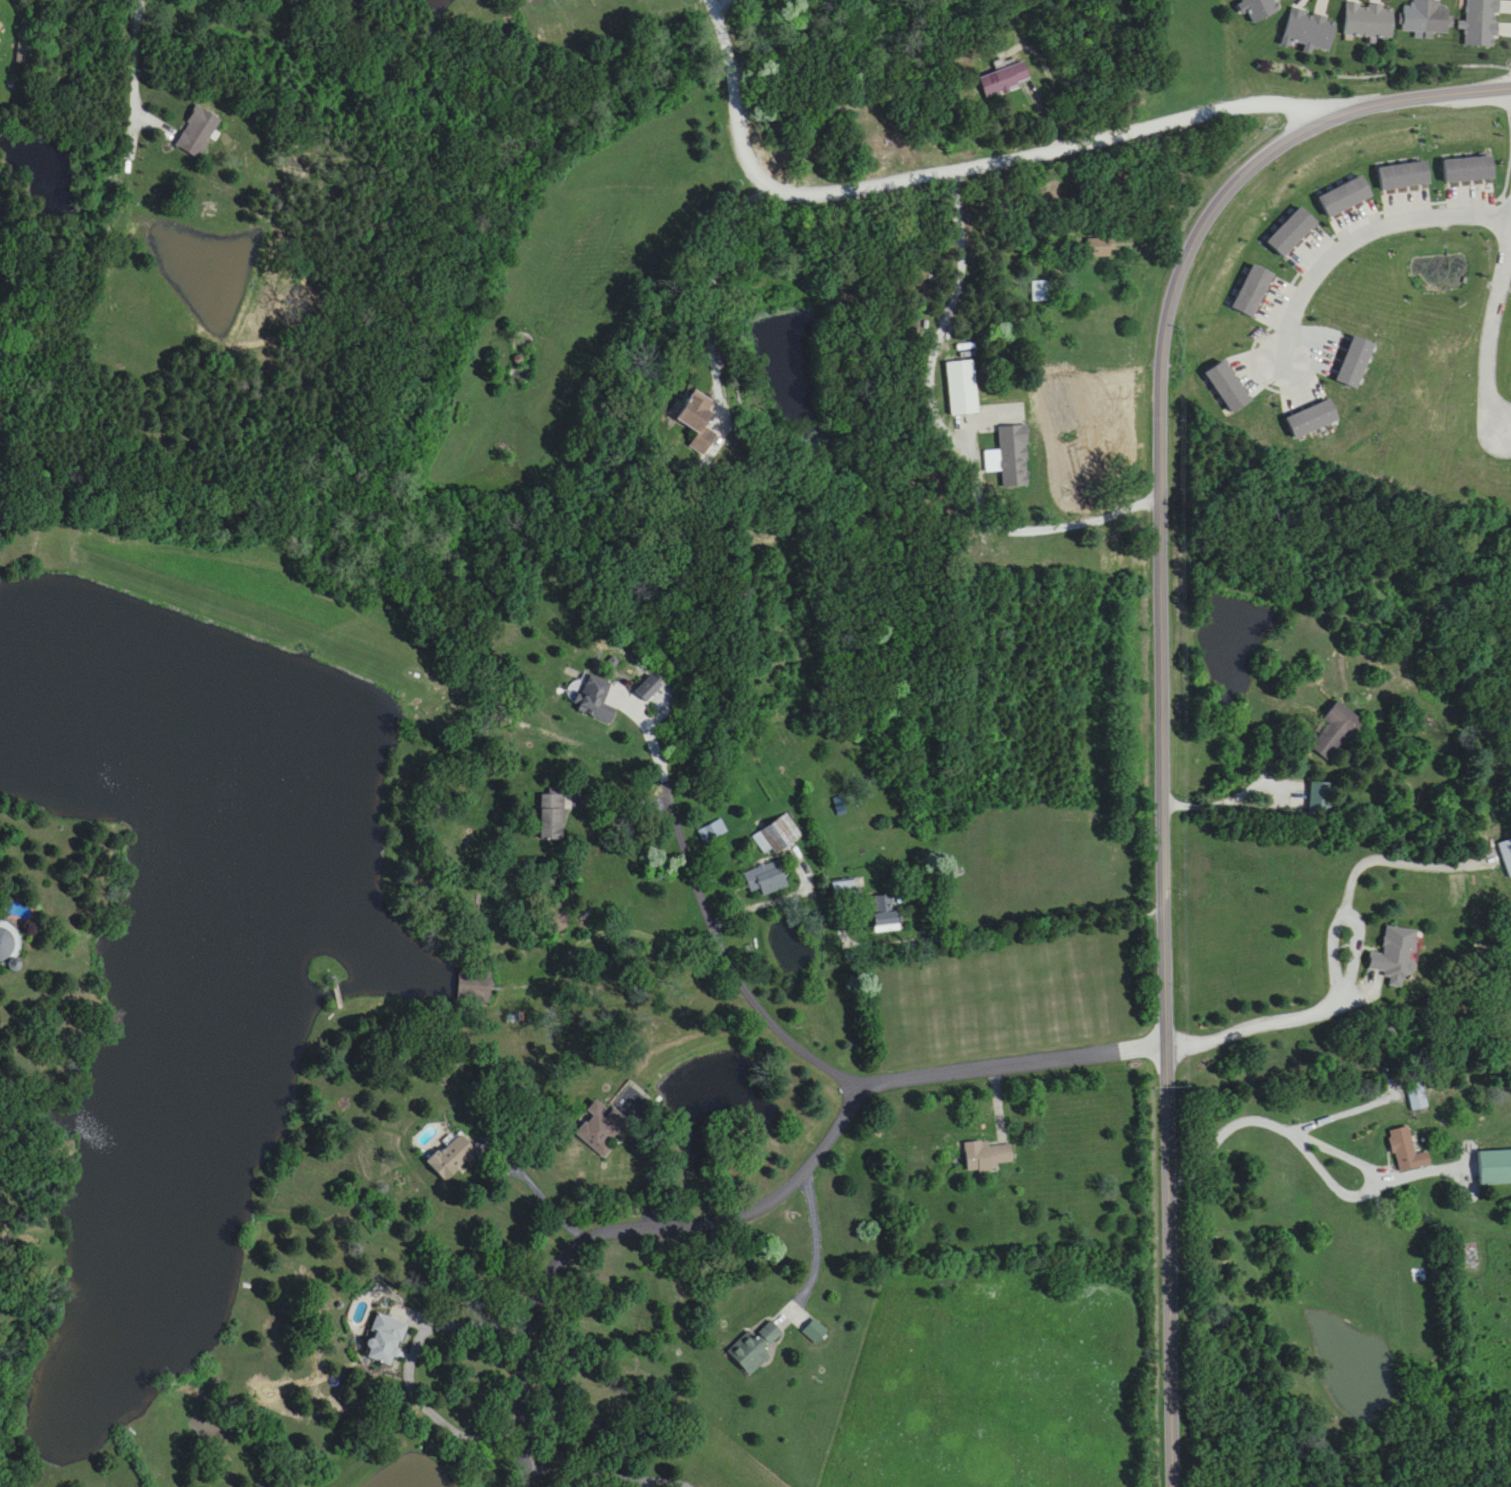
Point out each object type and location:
building: (1260, 9)
building: (1426, 17)
building: (1369, 21)
building: (1482, 24)
building: (0, 27)
building: (1309, 30)
building: (1004, 78)
building: (198, 132)
road: (127, 158)
building: (1468, 169)
road: (955, 171)
building: (1404, 175)
building: (1345, 196)
building: (1292, 231)
road: (1361, 237)
building: (1098, 247)
building: (1252, 290)
building: (1040, 291)
road: (712, 306)
road: (1490, 332)
building: (1227, 386)
building: (961, 387)
building: (1311, 419)
building: (709, 427)
road: (979, 448)
building: (1013, 455)
road: (1162, 673)
building: (594, 699)
building: (1341, 721)
road: (618, 800)
road: (1225, 801)
building: (551, 816)
building: (713, 831)
building: (777, 835)
building: (1506, 854)
building: (767, 879)
building: (848, 887)
road: (783, 900)
building: (883, 913)
road: (1081, 916)
road: (711, 921)
building: (5, 942)
road: (694, 954)
building: (1396, 955)
building: (475, 984)
road: (1268, 1022)
building: (1417, 1098)
road: (1344, 1112)
building: (600, 1129)
road: (1223, 1130)
building: (1404, 1149)
road: (651, 1150)
building: (452, 1157)
building: (985, 1157)
building: (1495, 1167)
road: (1421, 1168)
road: (1374, 1172)
road: (773, 1205)
road: (548, 1206)
road: (817, 1246)
building: (383, 1340)
building: (755, 1348)
road: (407, 1370)
road: (592, 1476)

